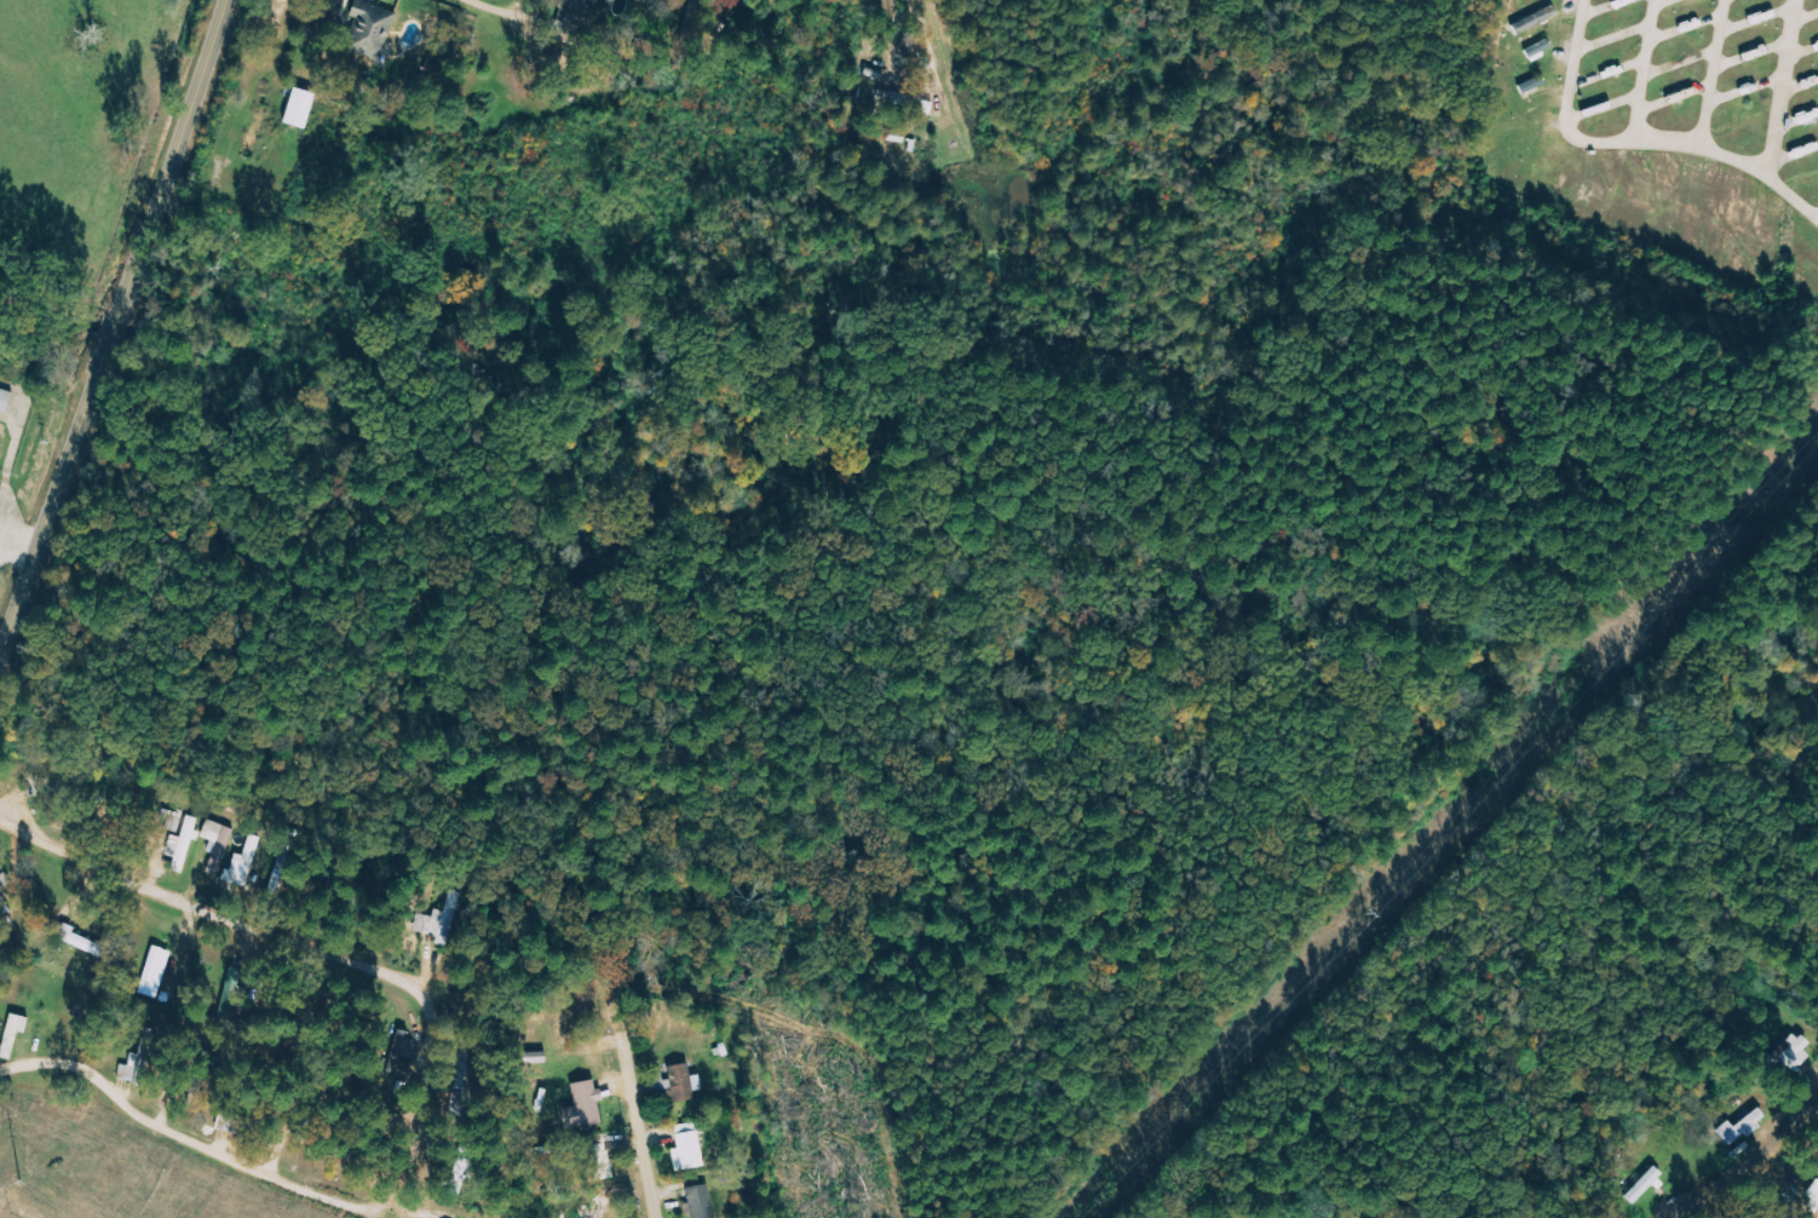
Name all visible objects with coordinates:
building: (575, 10)
building: (1535, 19)
building: (368, 29)
building: (1538, 50)
road: (1645, 70)
road: (1715, 73)
road: (1784, 88)
building: (297, 108)
building: (1519, 126)
road: (1635, 142)
road: (115, 326)
building: (4, 401)
building: (183, 845)
building: (218, 845)
building: (241, 868)
building: (4, 896)
building: (441, 920)
building: (155, 969)
building: (11, 1034)
building: (402, 1052)
building: (533, 1058)
building: (681, 1082)
building: (582, 1105)
road: (637, 1126)
building: (1741, 1127)
building: (685, 1148)
road: (1755, 1151)
building: (596, 1162)
building: (1644, 1187)
building: (1811, 1197)
building: (698, 1202)

